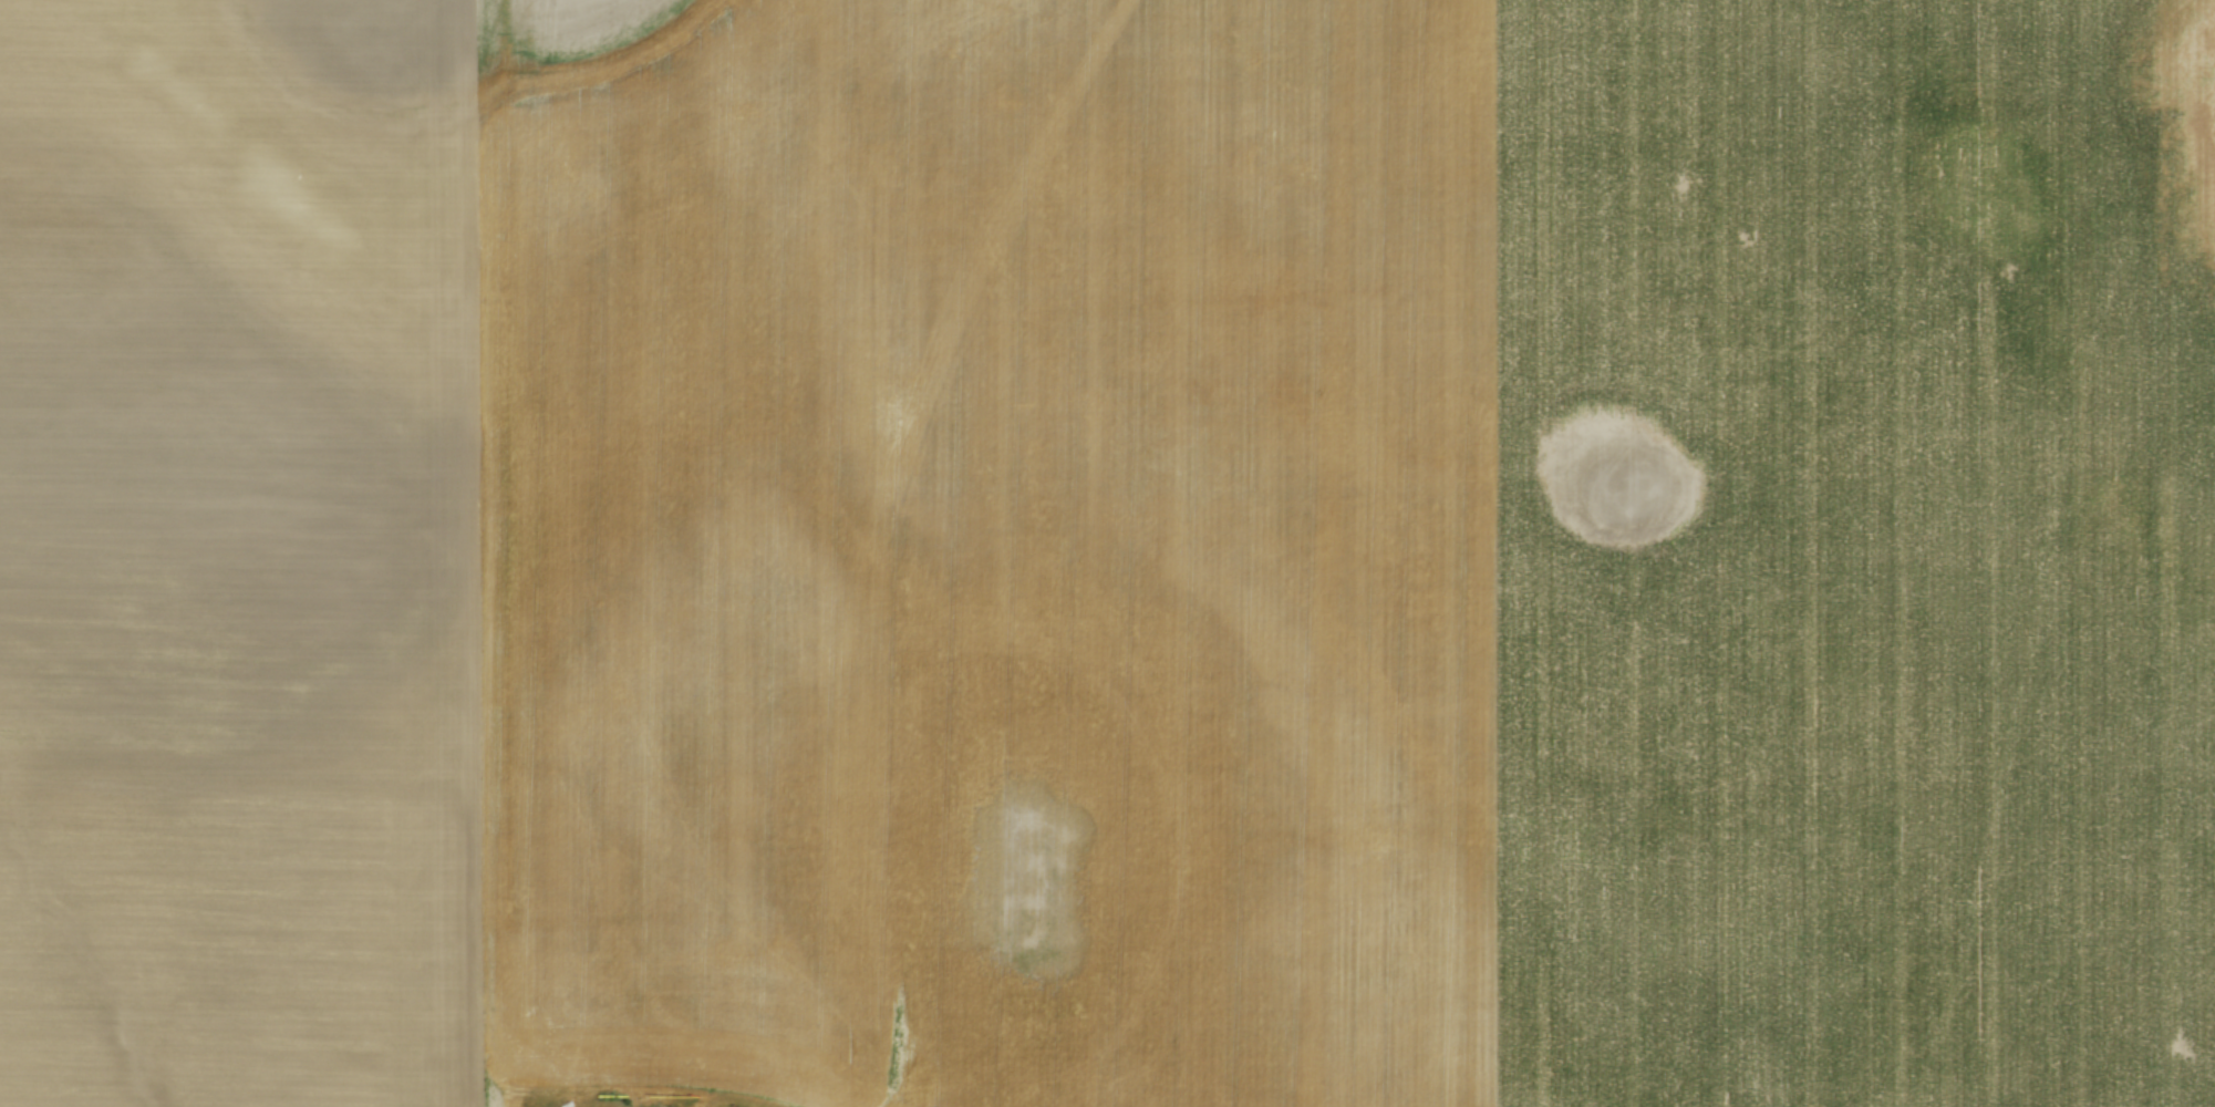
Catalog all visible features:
crop: (1116, 559)

